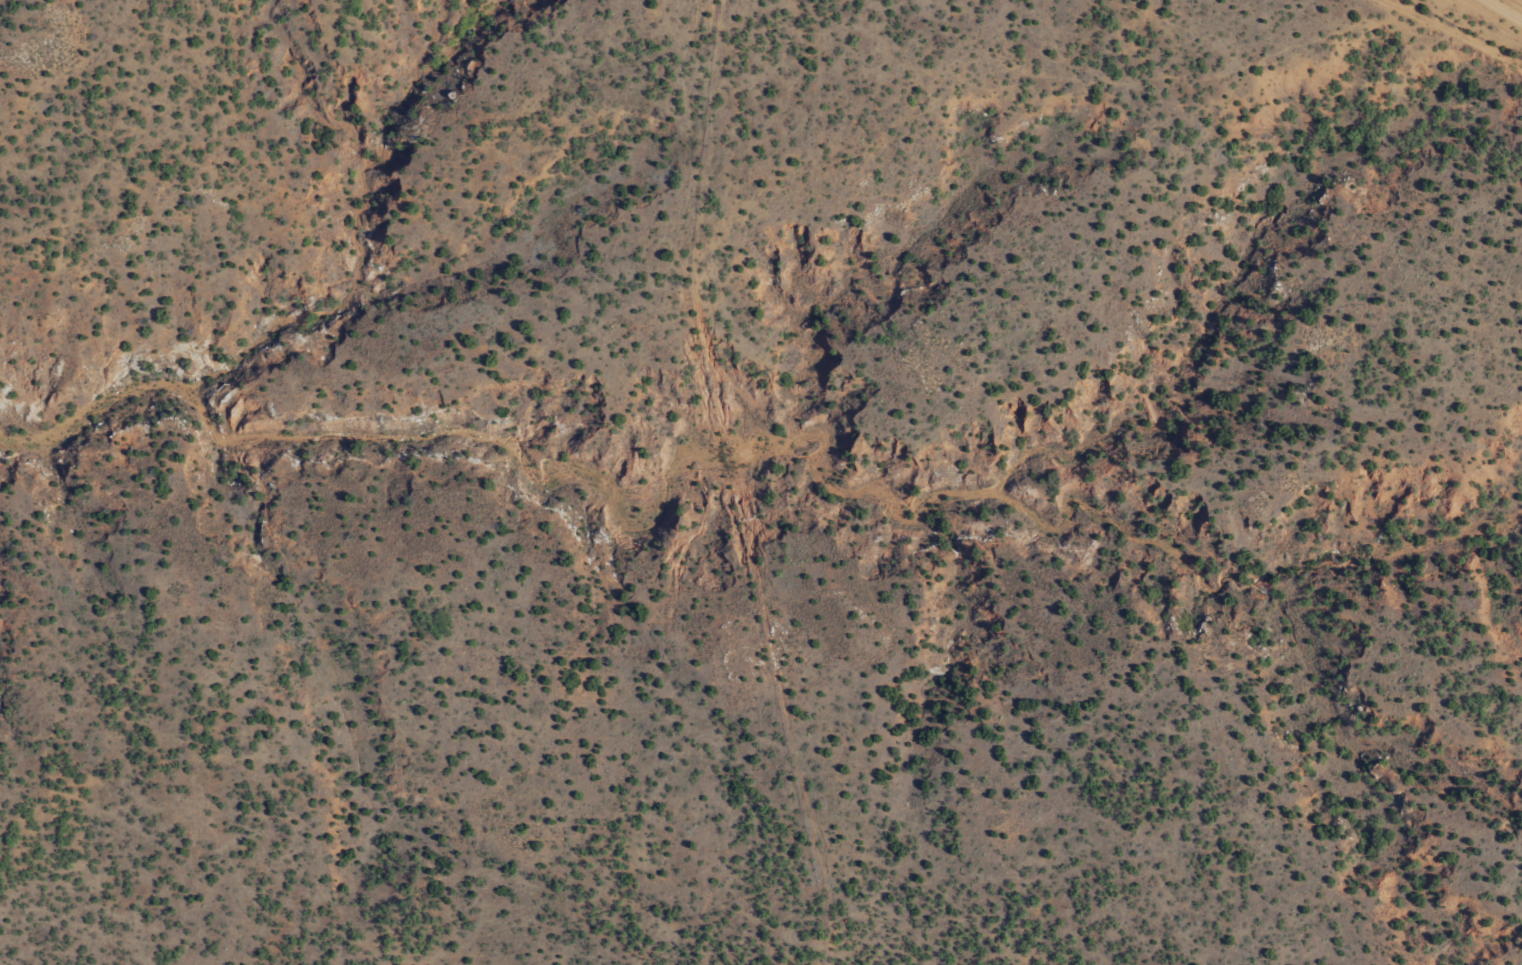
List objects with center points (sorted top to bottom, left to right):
road: (1498, 13)

